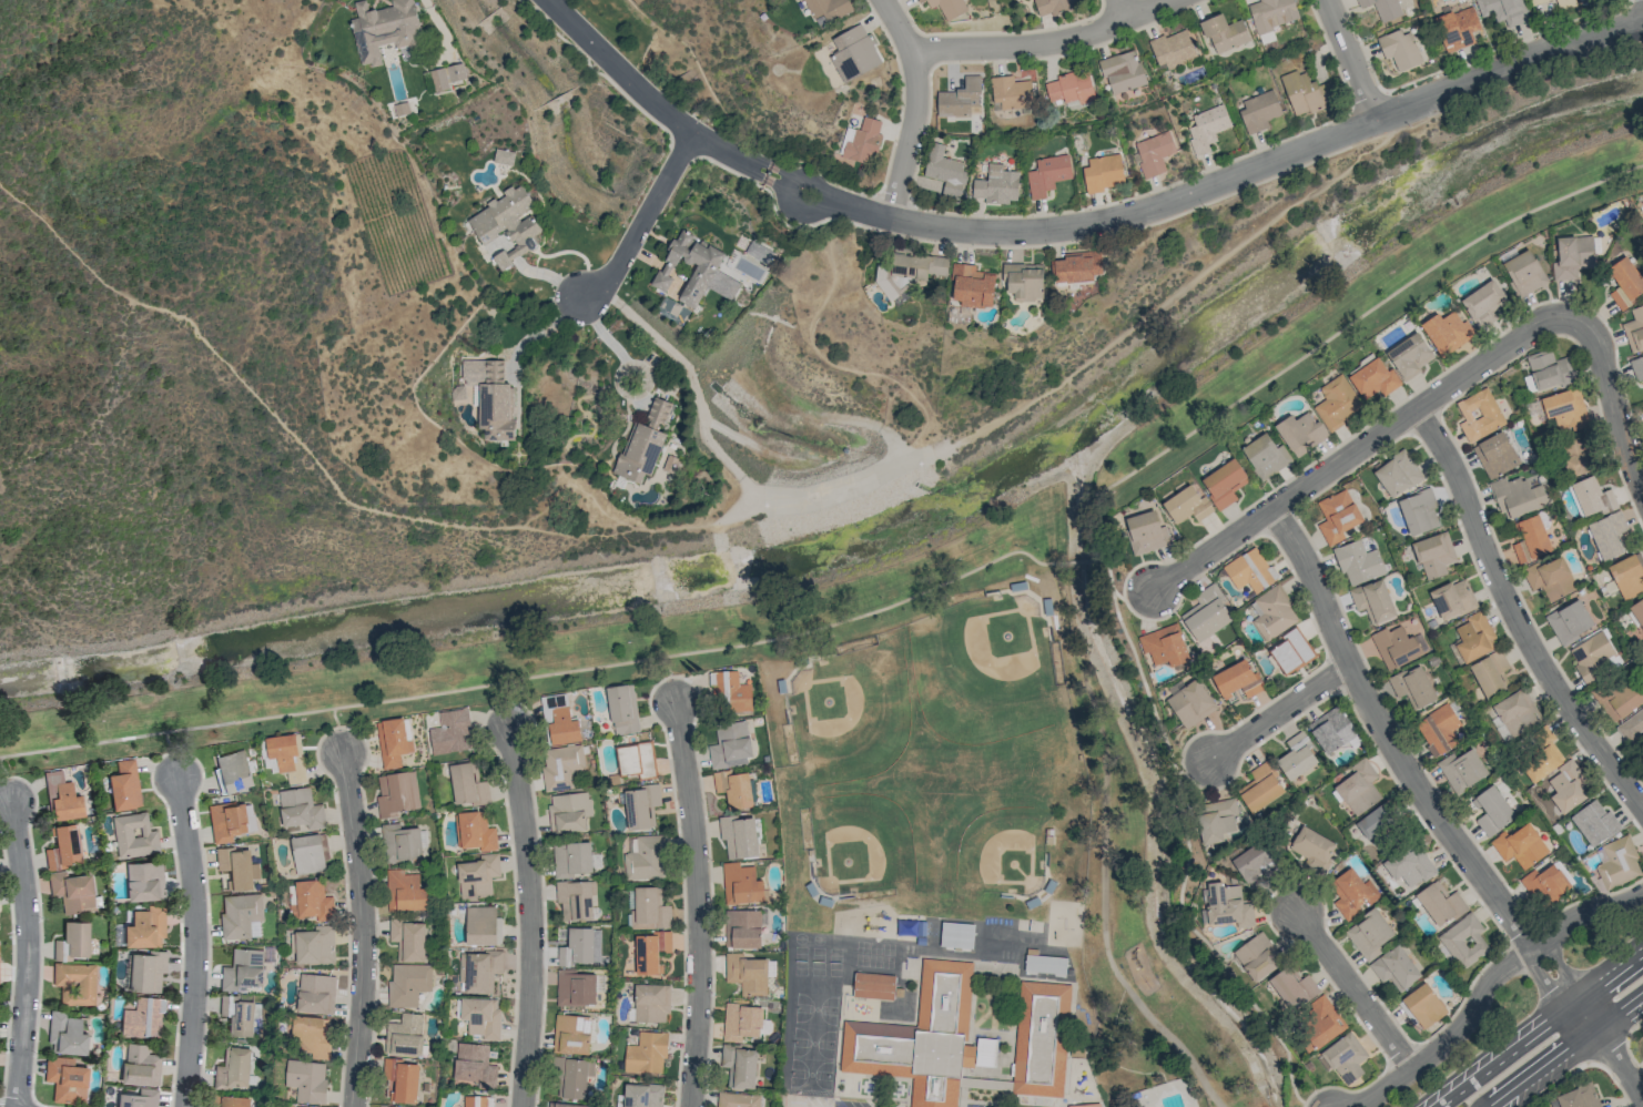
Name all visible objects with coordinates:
building: (1055, 6)
building: (946, 7)
building: (828, 8)
building: (1383, 8)
road: (1128, 9)
building: (1503, 10)
building: (1271, 13)
building: (1457, 28)
building: (385, 29)
road: (909, 29)
building: (1224, 32)
building: (1266, 37)
road: (1055, 40)
building: (1173, 49)
building: (1400, 49)
building: (853, 53)
road: (1352, 59)
building: (1123, 72)
building: (446, 75)
building: (1069, 88)
building: (1011, 92)
building: (1306, 92)
building: (960, 98)
road: (648, 100)
building: (402, 109)
building: (1259, 110)
building: (1206, 129)
road: (913, 135)
building: (1154, 152)
building: (503, 156)
building: (945, 170)
building: (1103, 172)
building: (1047, 174)
building: (996, 185)
road: (1215, 187)
road: (641, 221)
building: (507, 223)
building: (1572, 256)
building: (1077, 266)
building: (696, 270)
building: (909, 271)
building: (1523, 272)
building: (1024, 281)
building: (1625, 283)
building: (972, 286)
building: (1483, 304)
building: (1634, 329)
road: (538, 331)
building: (1447, 332)
road: (1333, 333)
road: (601, 334)
road: (821, 353)
building: (1409, 355)
building: (1637, 368)
building: (1548, 370)
building: (1373, 378)
road: (616, 383)
building: (491, 397)
building: (1337, 403)
road: (1617, 406)
building: (1642, 409)
building: (1564, 410)
building: (659, 413)
building: (1479, 414)
building: (1300, 433)
road: (1365, 447)
building: (640, 451)
building: (1495, 455)
building: (1266, 456)
building: (1576, 456)
building: (1398, 474)
building: (1224, 483)
building: (1592, 496)
building: (1518, 497)
building: (1187, 505)
building: (1419, 511)
building: (1337, 516)
road: (680, 527)
building: (1146, 531)
building: (1607, 535)
building: (1531, 538)
building: (1433, 555)
road: (1081, 561)
building: (1358, 562)
building: (1249, 570)
building: (1627, 576)
building: (1550, 578)
road: (1132, 595)
building: (1452, 599)
building: (1372, 600)
building: (1637, 611)
building: (1206, 613)
building: (1274, 613)
road: (1514, 617)
building: (1569, 621)
building: (1474, 637)
building: (1164, 646)
building: (1398, 647)
building: (1290, 651)
building: (1591, 656)
building: (1490, 673)
road: (536, 677)
road: (669, 679)
building: (1237, 679)
building: (1413, 685)
building: (730, 692)
building: (1617, 699)
road: (506, 703)
building: (1190, 703)
building: (622, 709)
road: (1281, 710)
building: (1517, 712)
building: (559, 720)
building: (1632, 728)
road: (337, 729)
building: (1439, 729)
building: (1331, 730)
building: (452, 732)
building: (393, 742)
building: (730, 744)
road: (170, 753)
building: (287, 756)
building: (1296, 756)
building: (1541, 756)
building: (636, 760)
road: (1407, 765)
building: (561, 766)
road: (1196, 768)
building: (1461, 770)
building: (233, 772)
road: (4, 779)
building: (468, 784)
building: (124, 785)
building: (1358, 786)
building: (734, 788)
building: (1260, 788)
building: (396, 793)
building: (62, 798)
building: (641, 806)
building: (300, 809)
building: (1492, 811)
building: (568, 812)
building: (1216, 820)
building: (227, 821)
building: (1594, 823)
building: (1375, 824)
building: (474, 831)
building: (133, 836)
building: (739, 836)
building: (402, 842)
road: (1189, 843)
building: (1312, 845)
building: (1520, 845)
building: (63, 846)
building: (308, 853)
building: (571, 859)
building: (646, 859)
building: (1254, 862)
building: (1616, 864)
building: (1411, 866)
building: (235, 867)
building: (476, 876)
building: (144, 881)
building: (741, 884)
building: (1544, 884)
building: (72, 891)
building: (405, 892)
building: (1352, 893)
building: (575, 900)
building: (313, 901)
road: (699, 903)
building: (1440, 903)
building: (1227, 905)
building: (649, 910)
building: (239, 914)
road: (531, 915)
building: (483, 925)
building: (145, 927)
road: (364, 927)
building: (742, 928)
building: (1369, 934)
building: (956, 935)
road: (196, 940)
building: (408, 940)
building: (72, 941)
building: (1463, 942)
building: (315, 945)
building: (579, 947)
road: (26, 952)
building: (1257, 956)
building: (1045, 964)
building: (1394, 968)
building: (242, 969)
building: (146, 971)
building: (479, 971)
building: (747, 974)
building: (74, 983)
building: (408, 984)
road: (1489, 984)
building: (873, 985)
road: (1353, 985)
building: (576, 987)
building: (1292, 987)
building: (315, 994)
building: (651, 1003)
building: (1422, 1007)
building: (237, 1015)
building: (481, 1016)
building: (142, 1018)
building: (741, 1022)
building: (1318, 1025)
road: (1541, 1029)
building: (65, 1034)
building: (572, 1034)
building: (312, 1035)
building: (405, 1035)
building: (920, 1038)
building: (1044, 1042)
road: (1610, 1047)
road: (1568, 1050)
building: (646, 1053)
building: (1343, 1057)
building: (475, 1065)
building: (140, 1066)
building: (740, 1066)
building: (233, 1068)
building: (572, 1077)
building: (65, 1079)
building: (306, 1080)
building: (400, 1080)
road: (1560, 1081)
building: (642, 1095)
building: (1578, 1097)
building: (139, 1098)
building: (739, 1099)
building: (230, 1101)
building: (477, 1101)
building: (564, 1105)
building: (1084, 1105)
road: (1310, 1105)
building: (384, 1106)

